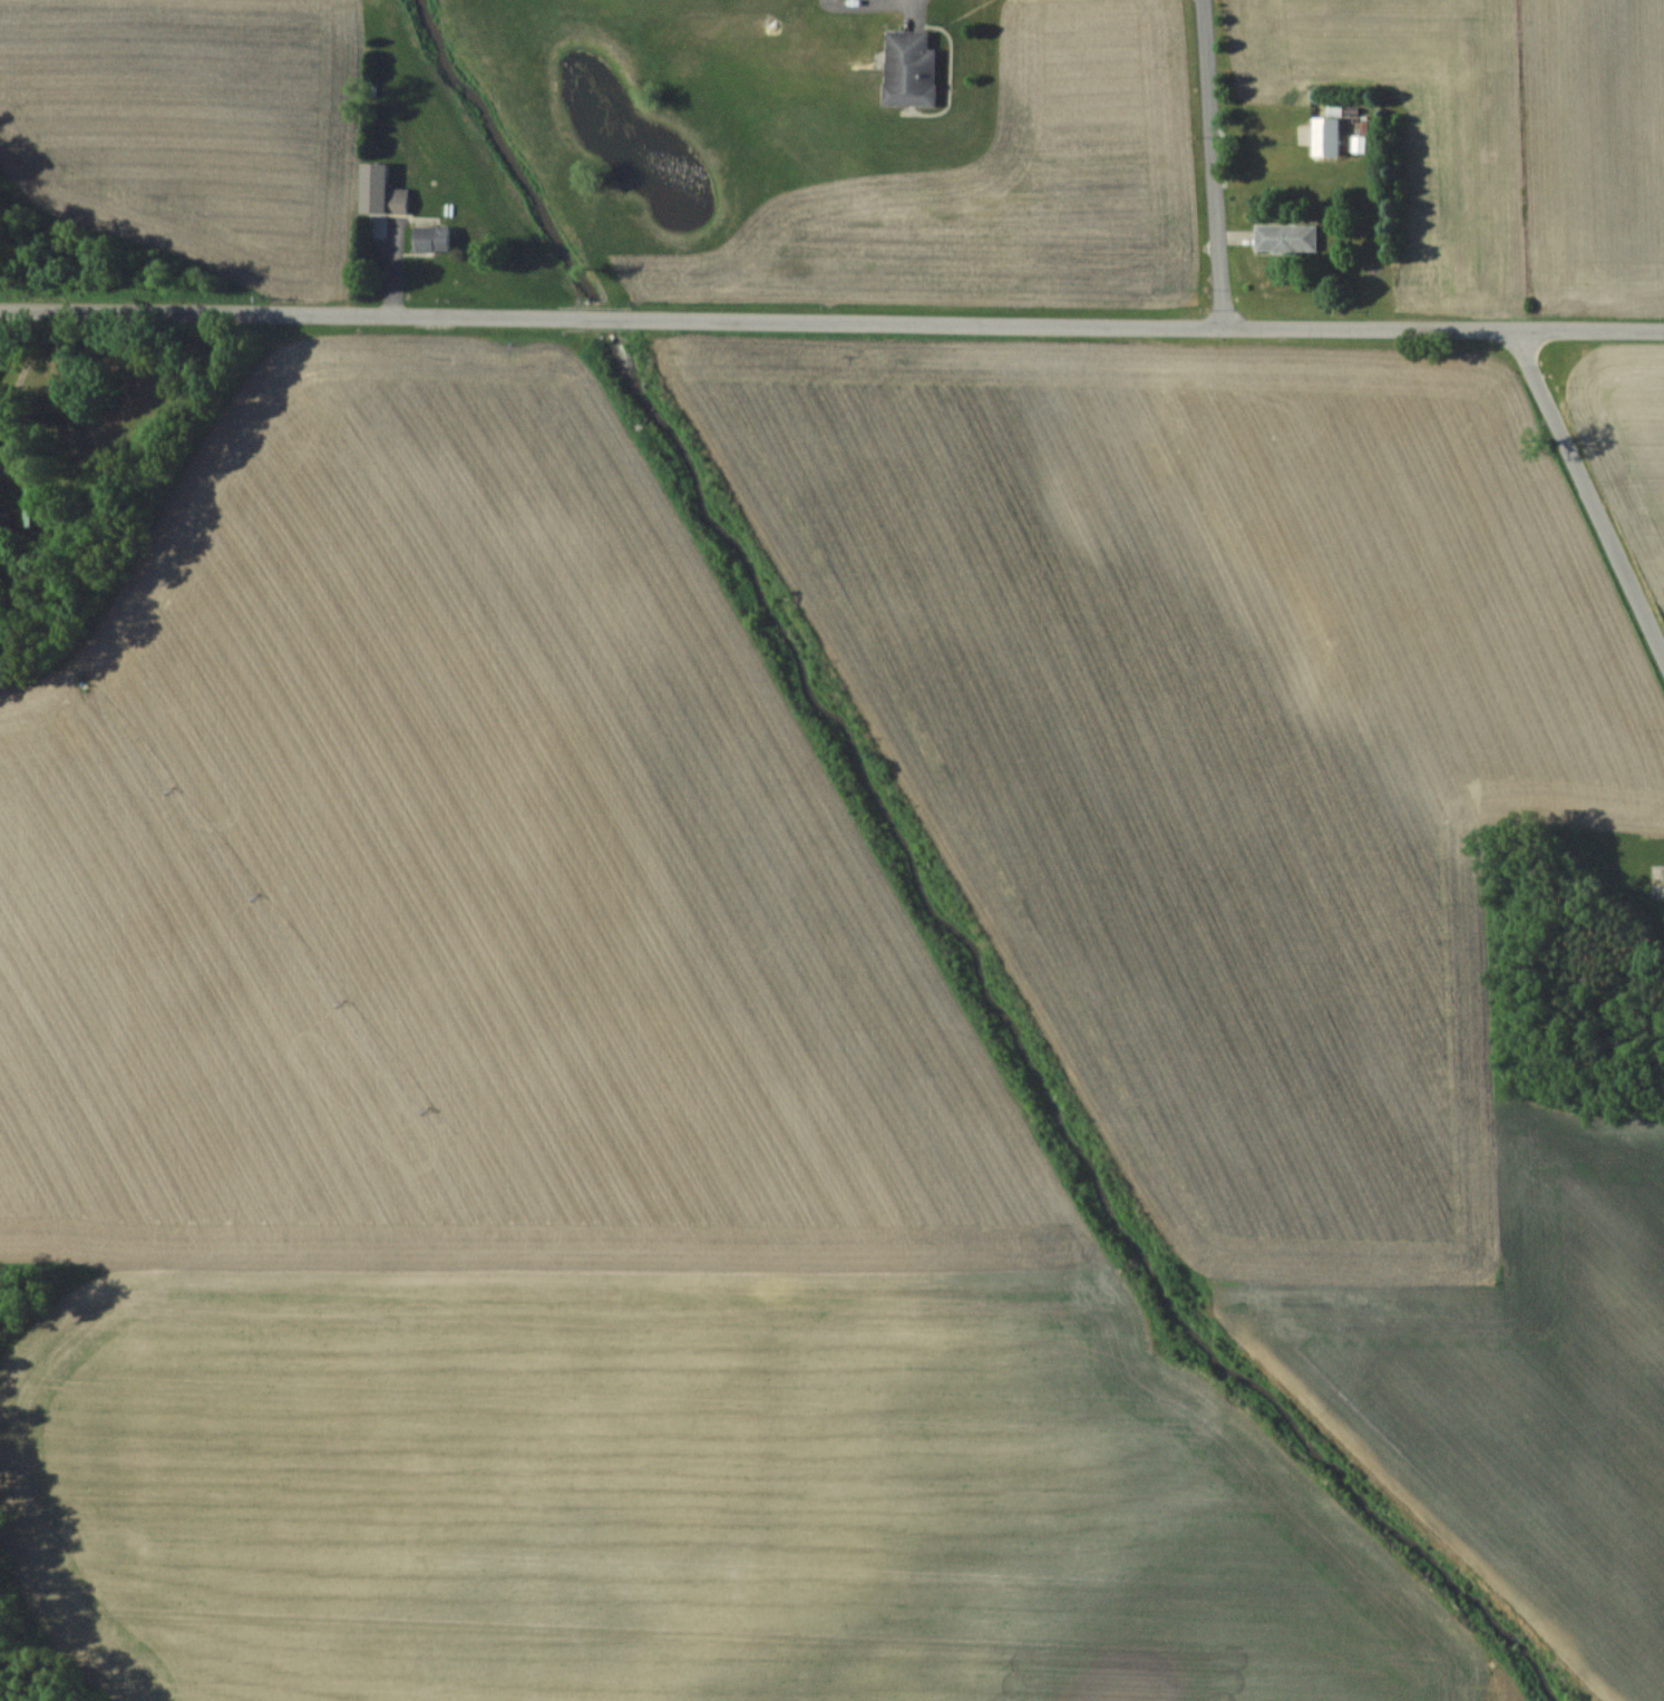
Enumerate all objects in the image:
building: (907, 69)
building: (1323, 138)
road: (1214, 165)
building: (392, 200)
building: (1284, 237)
building: (430, 239)
road: (831, 324)
road: (1588, 487)

